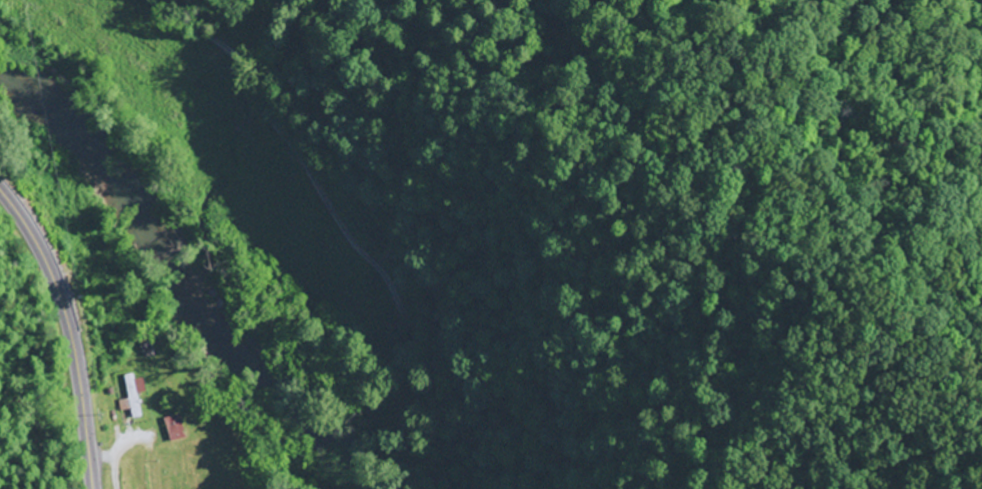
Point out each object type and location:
road: (335, 219)
road: (69, 329)
building: (134, 396)
building: (176, 429)

